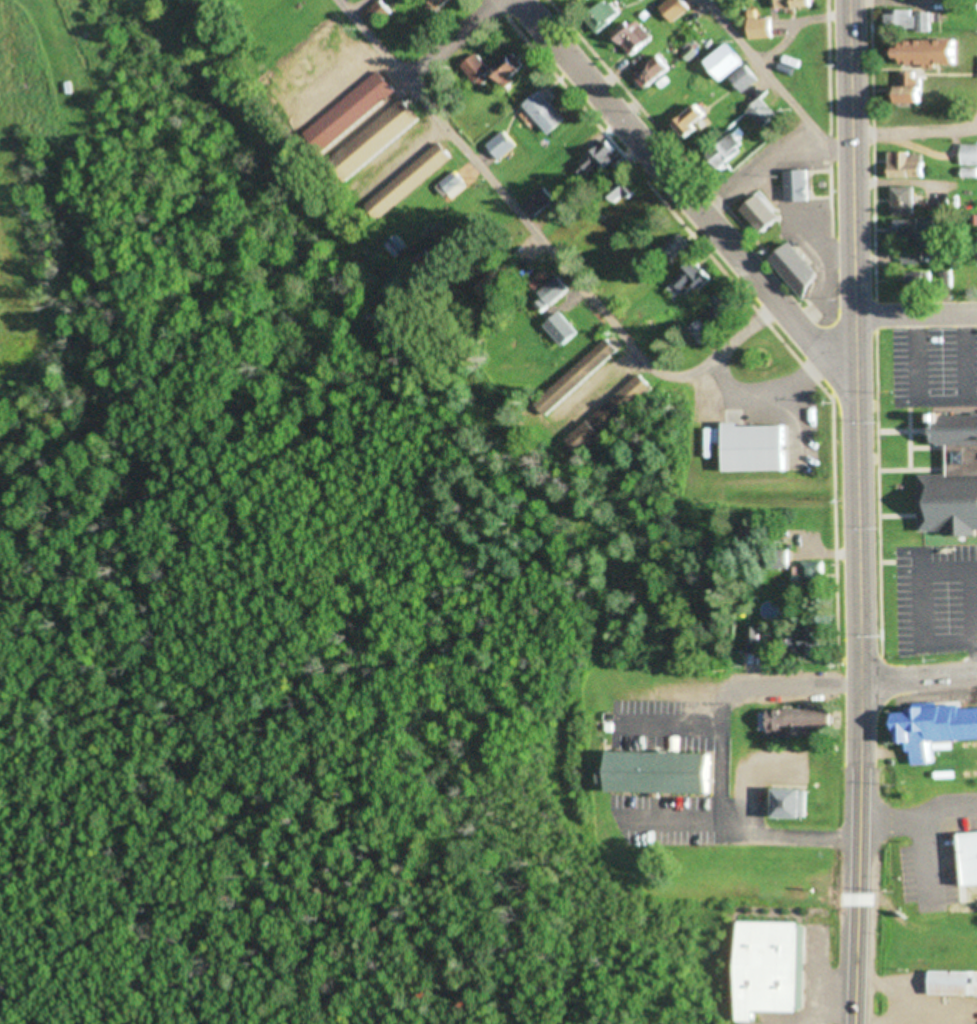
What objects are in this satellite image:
building: (587, 0)
building: (795, 4)
building: (378, 14)
building: (602, 15)
building: (910, 21)
building: (762, 28)
building: (633, 38)
road: (454, 41)
building: (933, 53)
building: (734, 67)
building: (510, 69)
building: (653, 71)
road: (776, 85)
building: (915, 89)
building: (547, 112)
building: (762, 112)
building: (695, 121)
building: (374, 140)
building: (502, 145)
building: (725, 150)
building: (970, 154)
building: (600, 161)
building: (907, 164)
building: (410, 180)
building: (798, 185)
building: (451, 186)
building: (620, 192)
road: (498, 193)
road: (686, 196)
building: (904, 201)
building: (539, 202)
building: (763, 214)
building: (918, 230)
building: (391, 246)
building: (672, 248)
building: (796, 265)
building: (687, 279)
building: (485, 288)
building: (549, 296)
building: (724, 306)
road: (915, 315)
building: (562, 329)
building: (699, 331)
road: (855, 340)
road: (724, 347)
building: (598, 356)
building: (610, 415)
building: (758, 449)
building: (954, 479)
building: (781, 560)
building: (810, 574)
parking lot: (936, 596)
road: (919, 606)
building: (752, 639)
building: (808, 641)
road: (918, 677)
road: (773, 685)
road: (666, 722)
parking lot: (670, 723)
building: (803, 724)
building: (934, 729)
road: (719, 753)
building: (655, 772)
building: (786, 801)
building: (953, 810)
parking lot: (689, 817)
road: (673, 819)
road: (787, 836)
road: (858, 852)
building: (965, 857)
building: (764, 968)
building: (953, 983)

